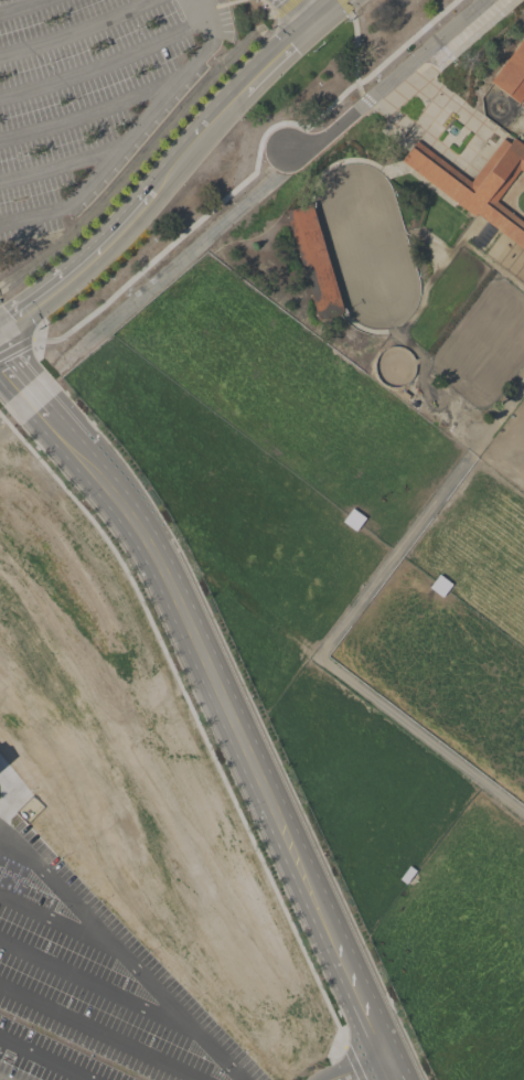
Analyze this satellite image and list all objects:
road: (201, 2)
road: (228, 3)
road: (18, 4)
road: (267, 7)
road: (345, 7)
road: (311, 8)
road: (281, 9)
road: (292, 13)
road: (74, 32)
road: (470, 40)
road: (406, 42)
road: (354, 53)
road: (105, 64)
building: (512, 74)
road: (386, 81)
parking lot: (87, 94)
road: (399, 95)
road: (366, 100)
road: (457, 105)
road: (85, 114)
road: (429, 116)
fountain: (452, 131)
road: (132, 132)
road: (420, 138)
road: (472, 143)
road: (172, 164)
road: (57, 165)
building: (477, 184)
road: (203, 214)
road: (182, 257)
building: (314, 261)
road: (15, 346)
road: (61, 347)
road: (13, 376)
road: (420, 520)
building: (6, 650)
building: (31, 688)
road: (233, 723)
road: (420, 735)
road: (13, 793)
road: (52, 923)
road: (121, 959)
road: (92, 986)
road: (89, 1036)
street lamp: (34, 1055)
road: (41, 1060)
street lamp: (2, 1061)
road: (356, 1067)
parking lot: (13, 1072)

